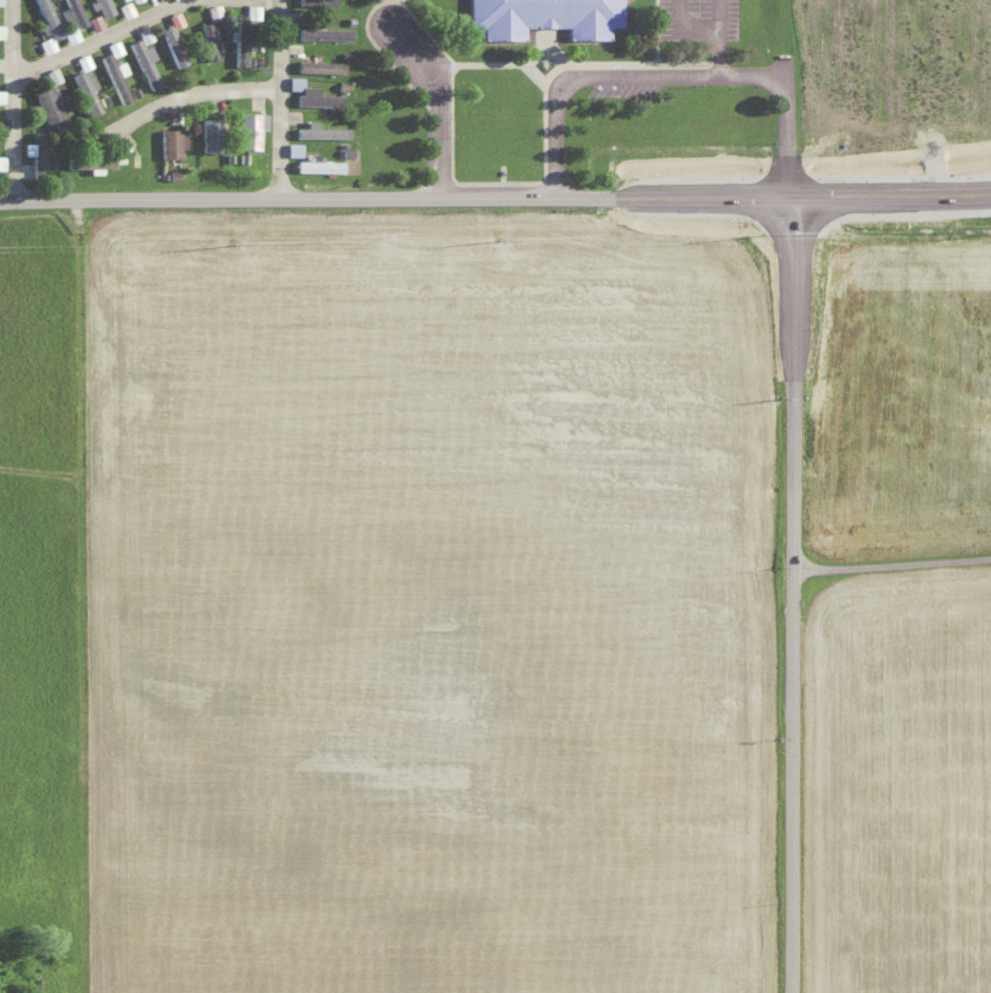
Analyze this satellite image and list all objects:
building: (133, 0)
building: (315, 2)
road: (407, 2)
road: (412, 2)
building: (103, 6)
building: (213, 10)
building: (71, 14)
building: (555, 17)
building: (175, 18)
parking lot: (709, 18)
building: (47, 19)
building: (94, 21)
road: (698, 27)
building: (1, 30)
building: (323, 32)
road: (667, 34)
road: (123, 38)
building: (208, 39)
road: (730, 39)
road: (389, 41)
road: (555, 41)
building: (46, 43)
building: (172, 45)
road: (390, 54)
building: (144, 61)
road: (545, 61)
building: (319, 65)
road: (502, 69)
building: (52, 74)
building: (115, 76)
road: (679, 80)
building: (85, 89)
building: (311, 93)
building: (1, 94)
road: (454, 94)
road: (281, 97)
road: (23, 98)
road: (195, 99)
road: (443, 102)
building: (50, 103)
building: (250, 128)
building: (320, 130)
building: (210, 133)
building: (171, 141)
building: (293, 148)
road: (556, 148)
building: (33, 154)
building: (94, 160)
road: (454, 161)
building: (1, 162)
building: (317, 163)
road: (892, 194)
road: (396, 196)
road: (891, 561)
road: (790, 593)

